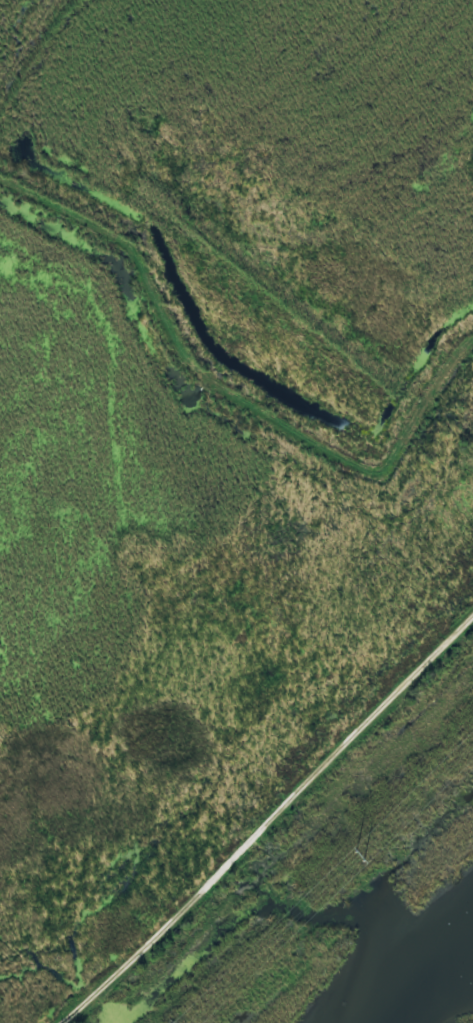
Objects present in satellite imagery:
power tower: (359, 857)

